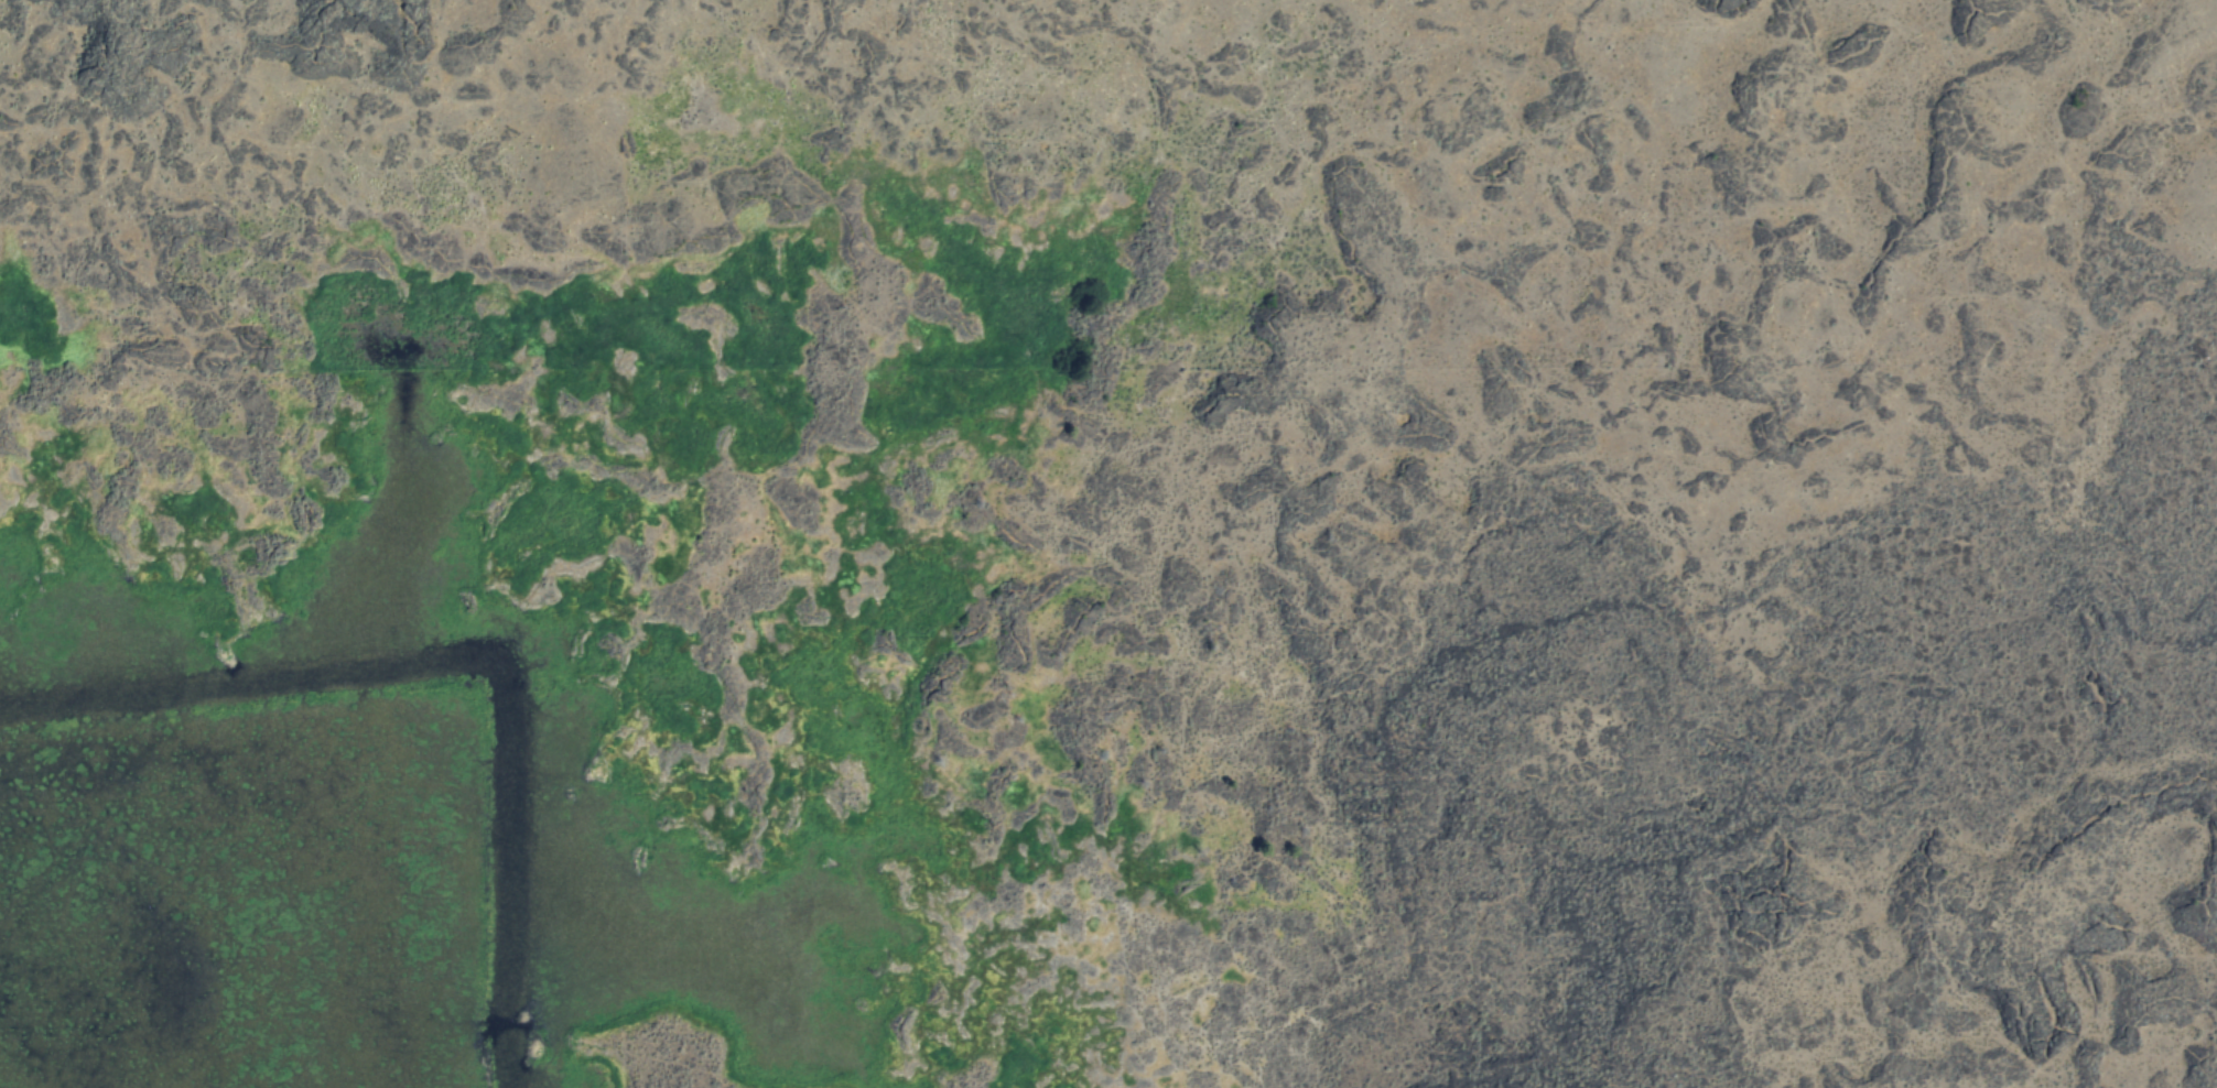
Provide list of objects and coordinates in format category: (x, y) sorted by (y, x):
building: (1724, 3)

